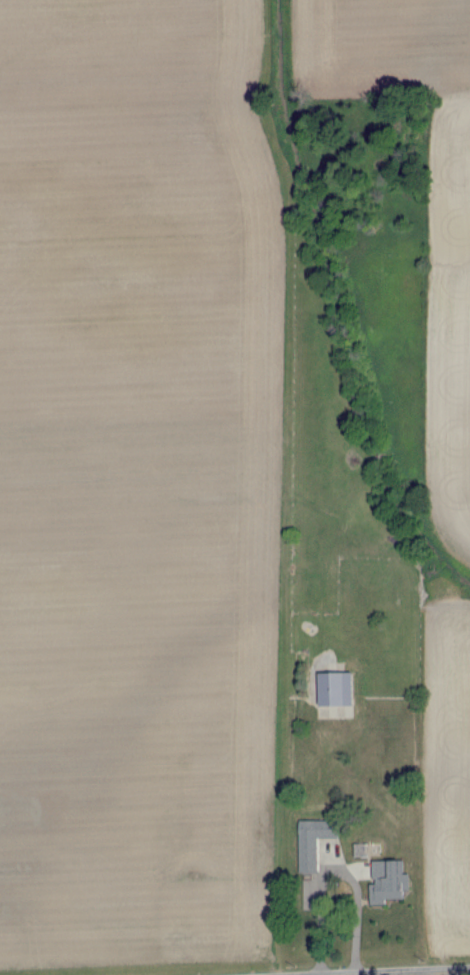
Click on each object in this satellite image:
crop: (234, 487)
building: (336, 688)
building: (313, 841)
building: (386, 879)
road: (428, 973)

